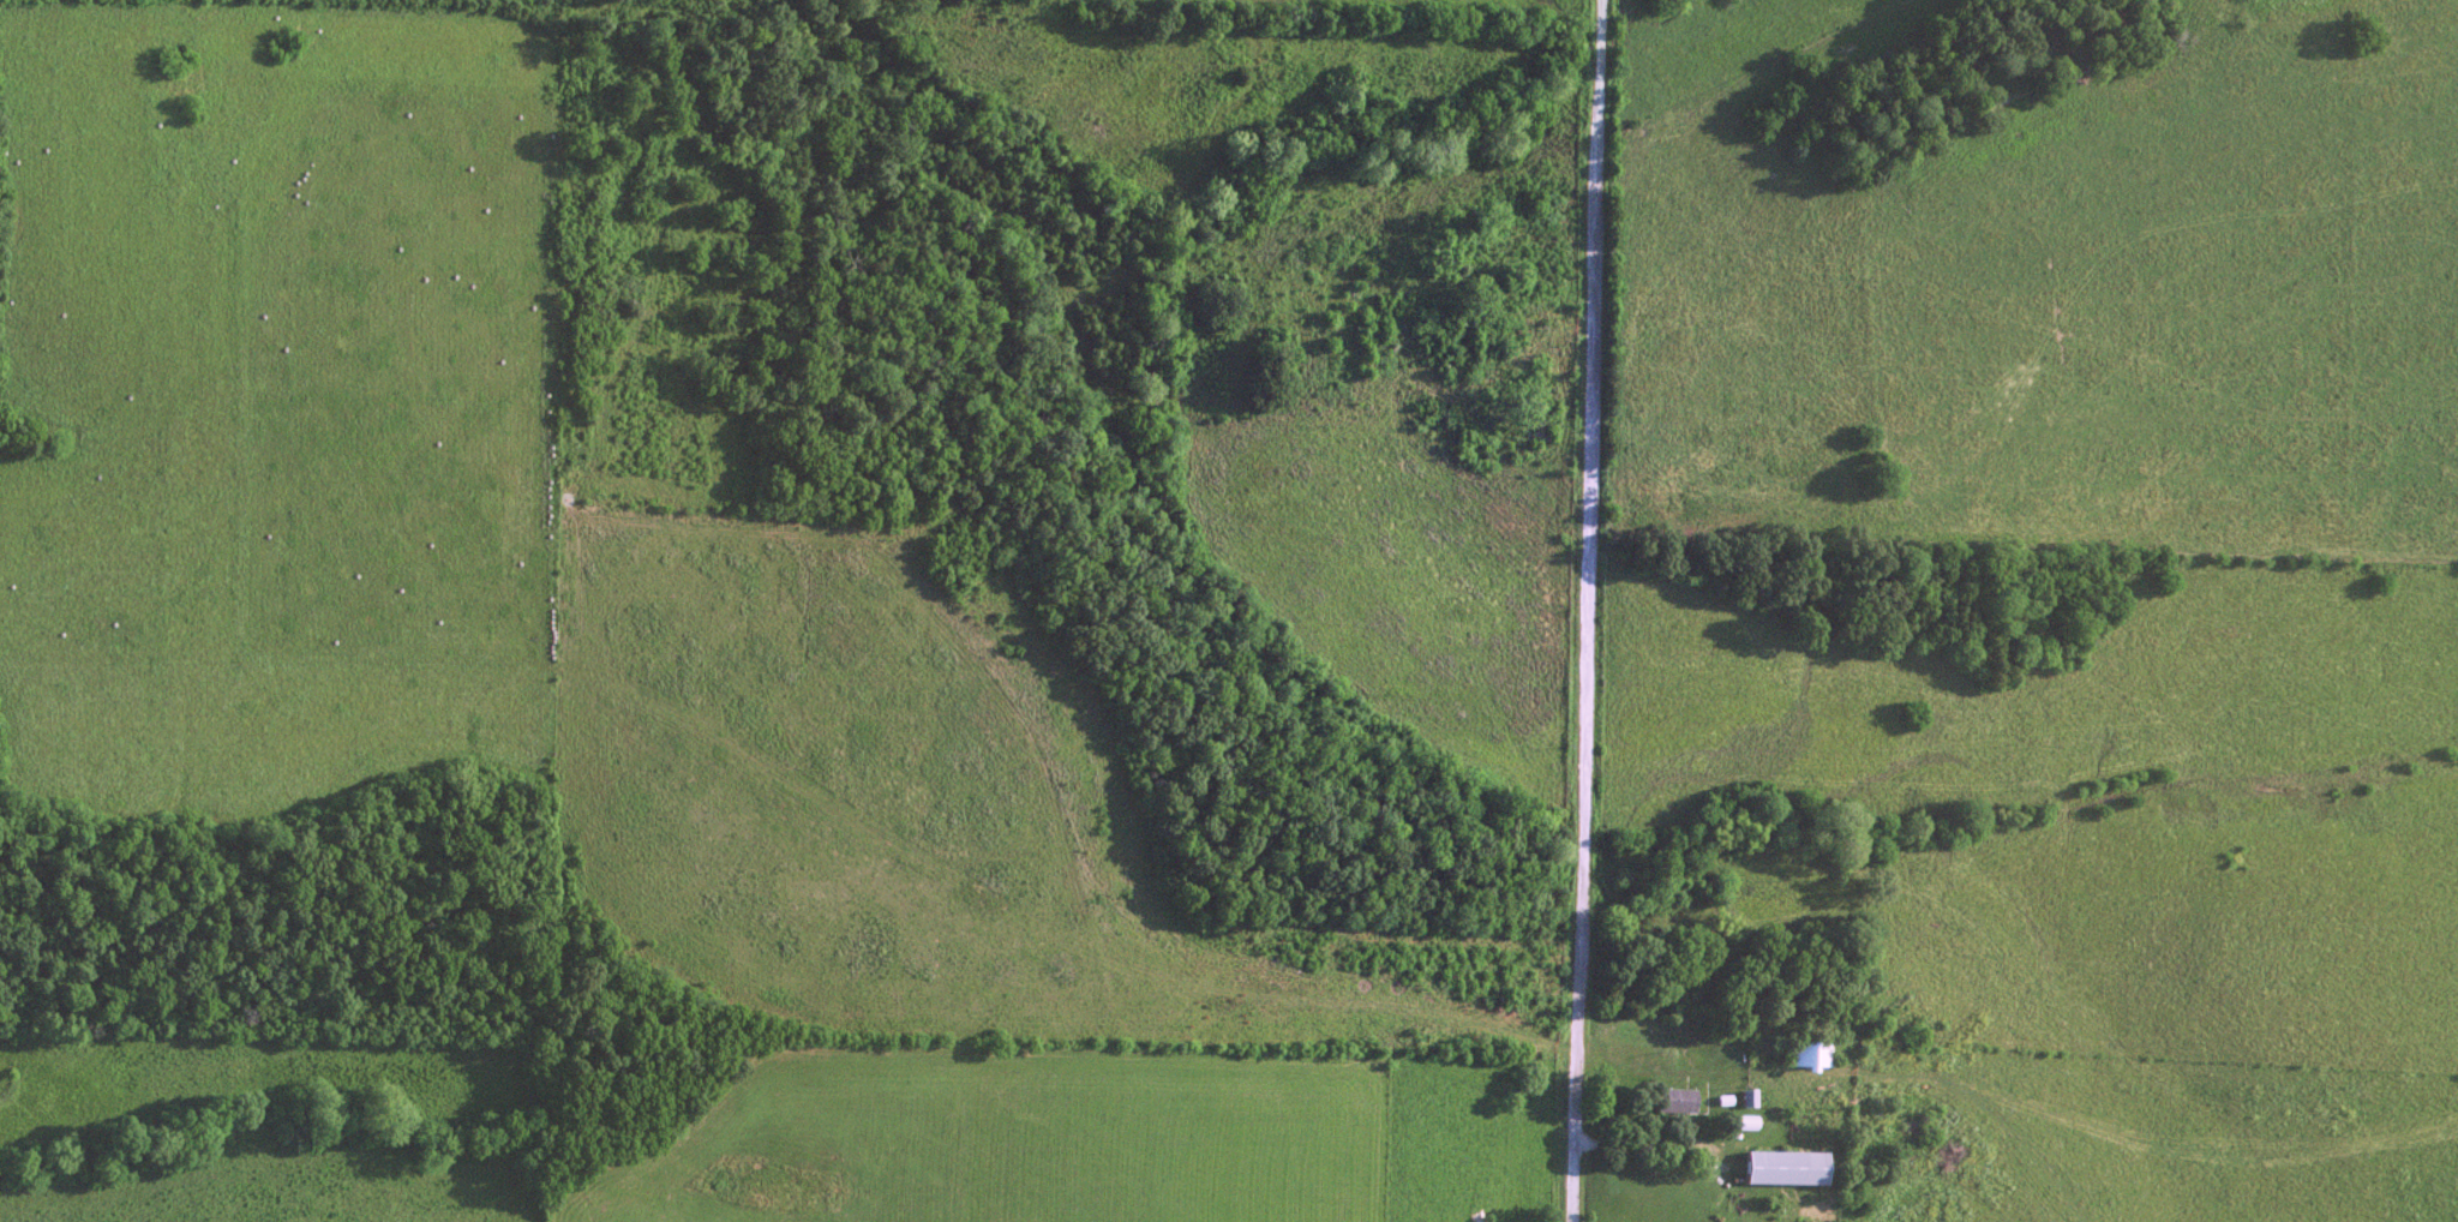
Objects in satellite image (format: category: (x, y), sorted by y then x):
road: (1591, 610)
building: (1813, 1054)
building: (1753, 1098)
building: (1679, 1100)
road: (1705, 1149)
building: (1794, 1168)

